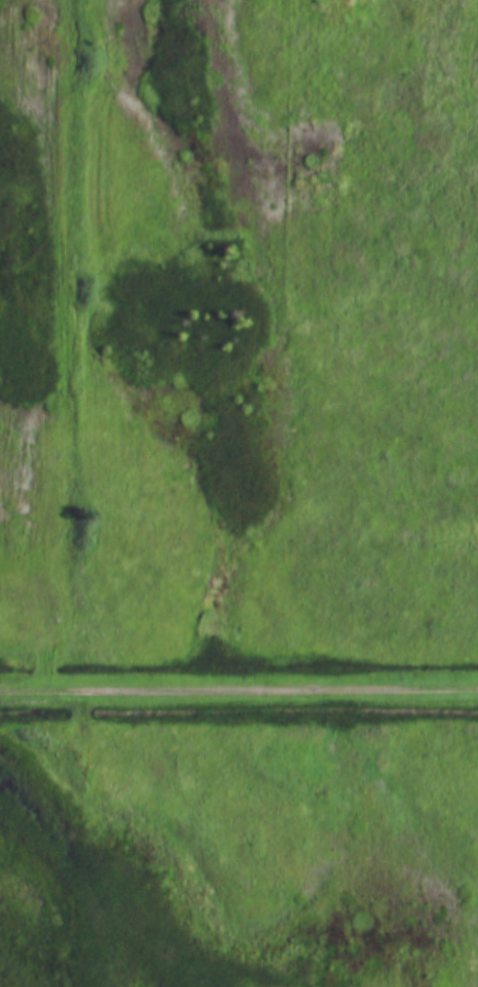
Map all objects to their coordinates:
road: (238, 690)

